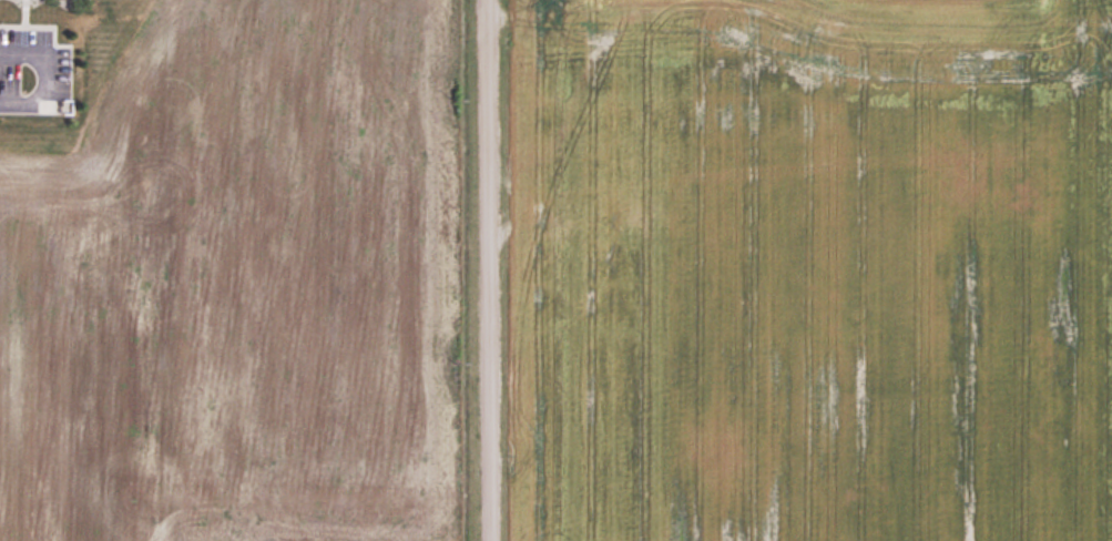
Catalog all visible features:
parking lot: (33, 73)
road: (45, 80)
road: (483, 270)
crop: (810, 272)
crop: (242, 285)

